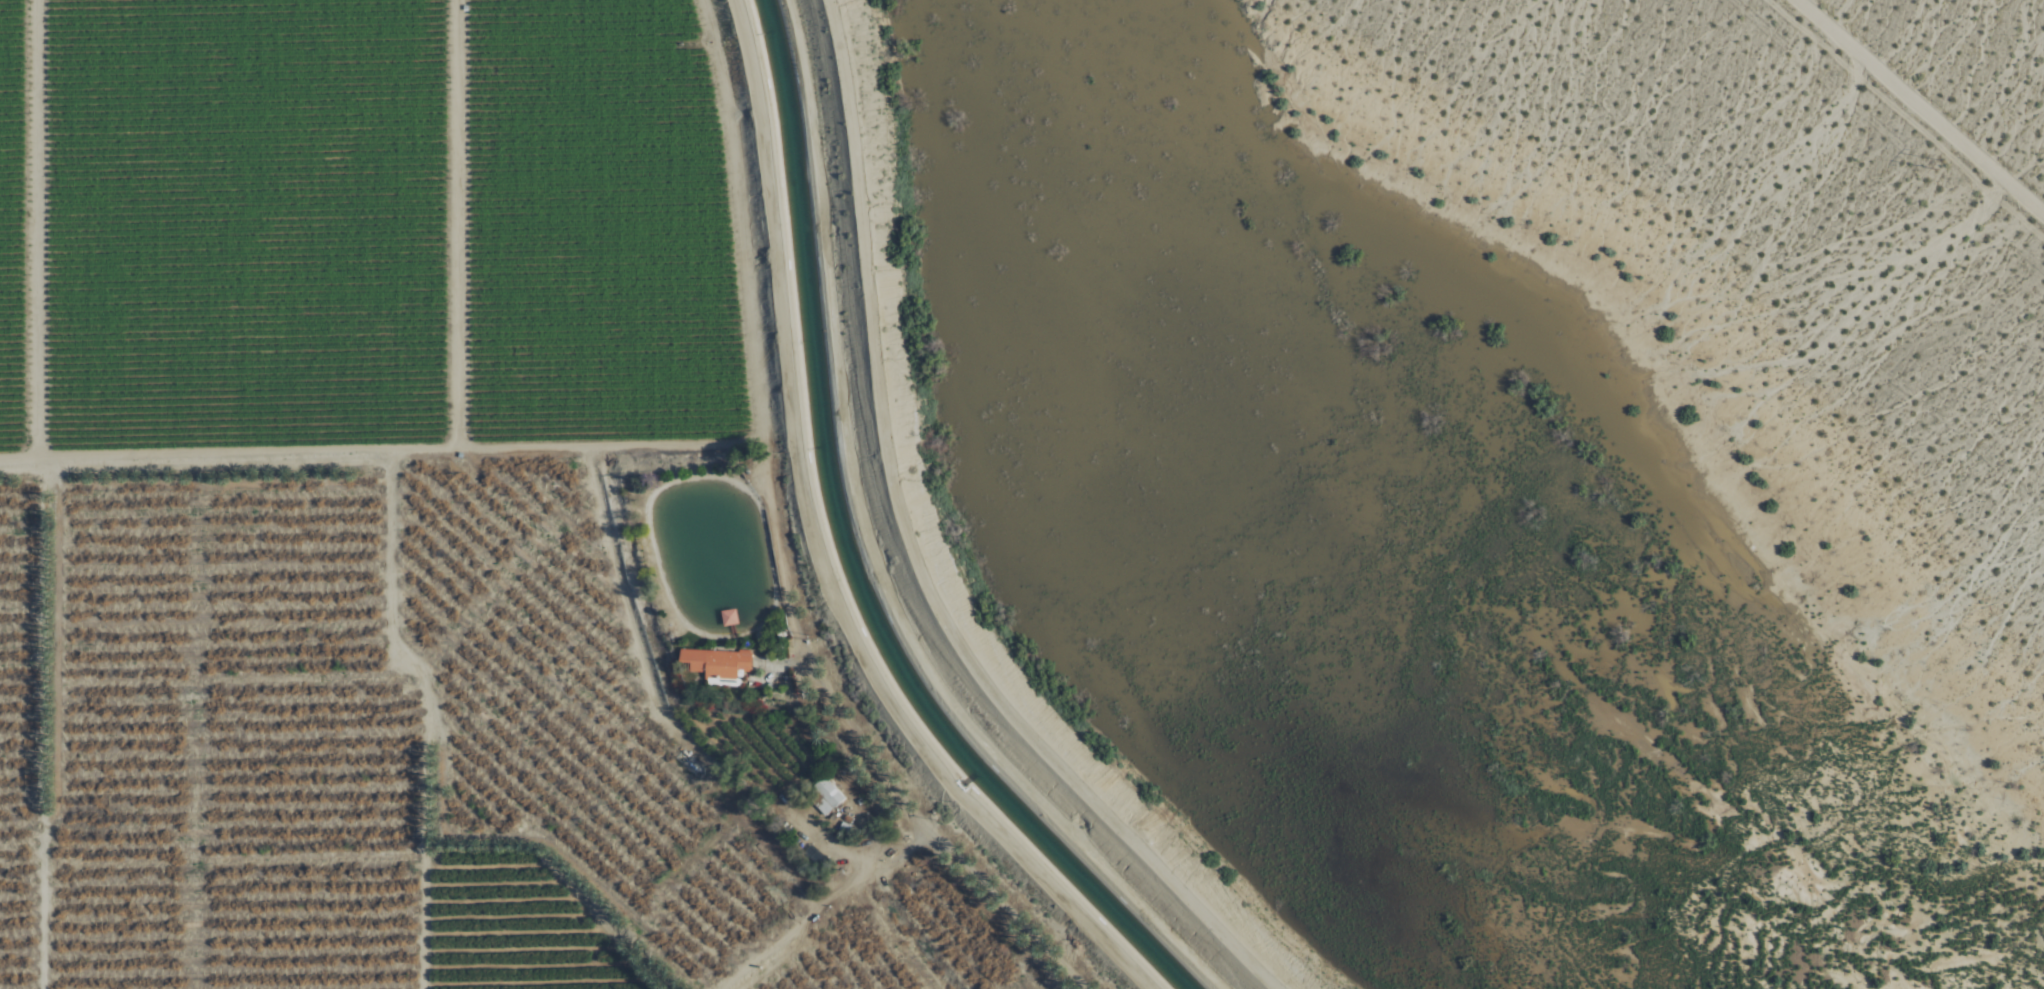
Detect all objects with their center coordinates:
road: (1925, 102)
power tower: (1944, 166)
road: (820, 551)
building: (827, 795)

